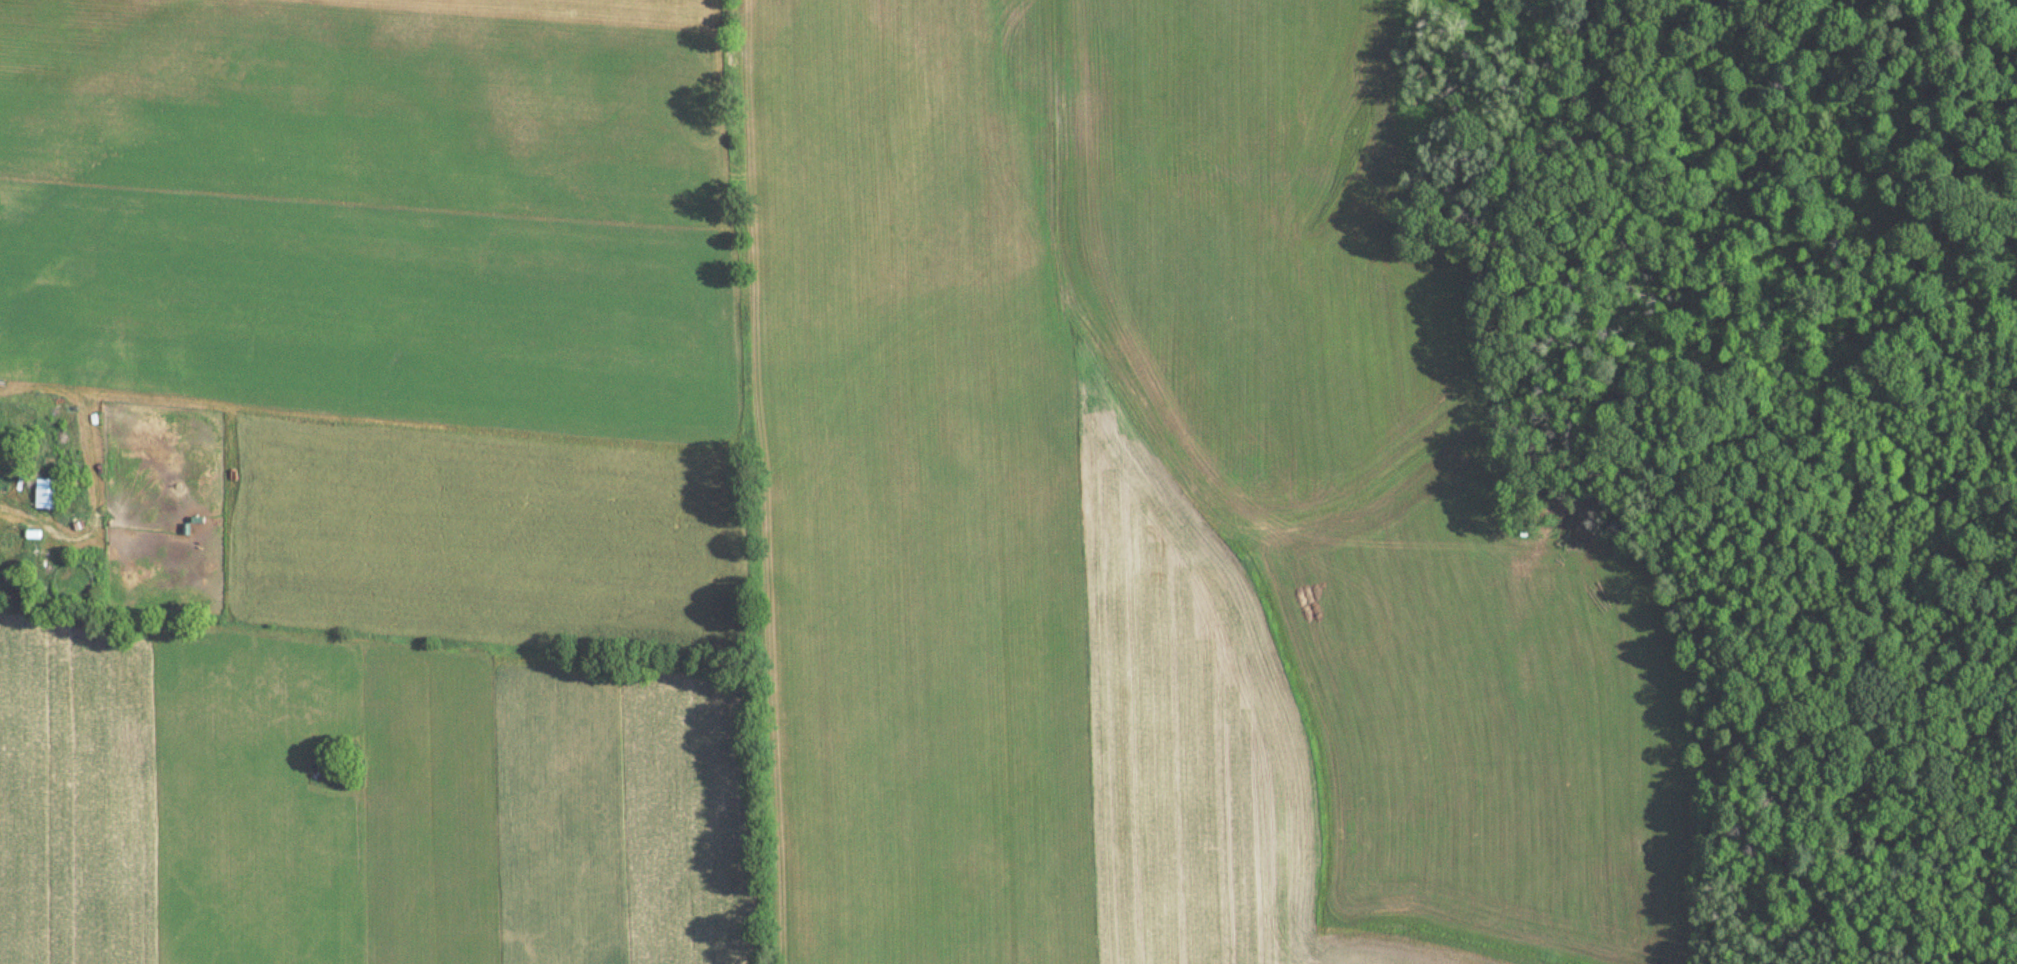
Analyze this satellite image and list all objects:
building: (46, 494)

